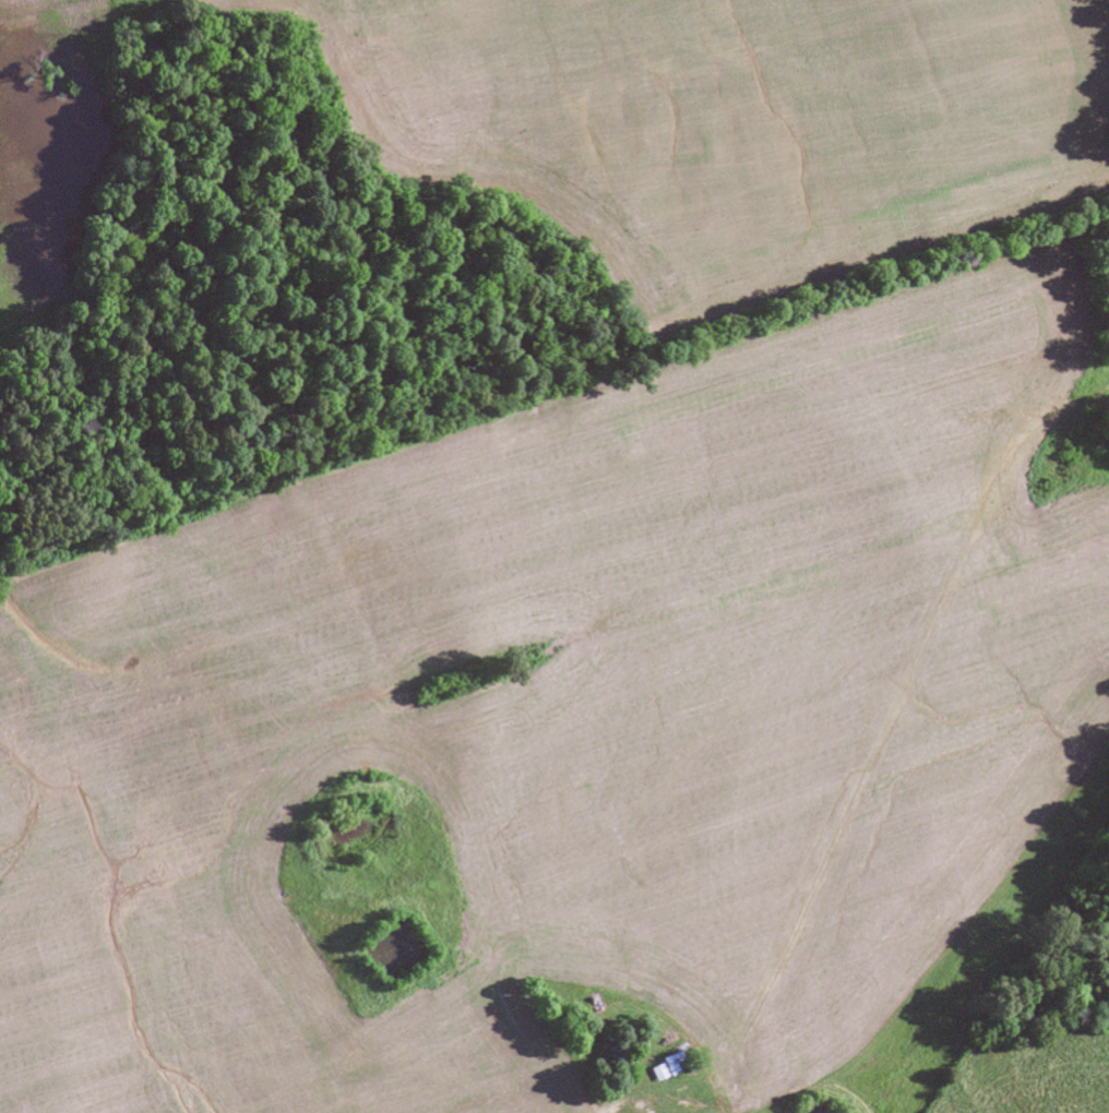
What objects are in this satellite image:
building: (615, 1057)
building: (670, 1065)

